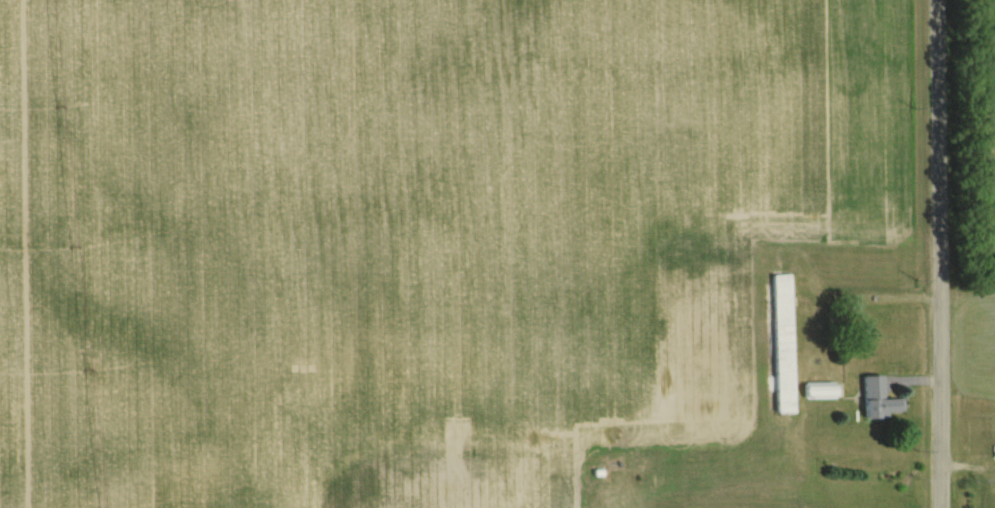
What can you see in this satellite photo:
crop: (981, 129)
crop: (388, 230)
road: (939, 254)
building: (754, 319)
crop: (981, 329)
building: (677, 345)
building: (749, 380)
building: (819, 390)
building: (877, 399)
building: (763, 449)

